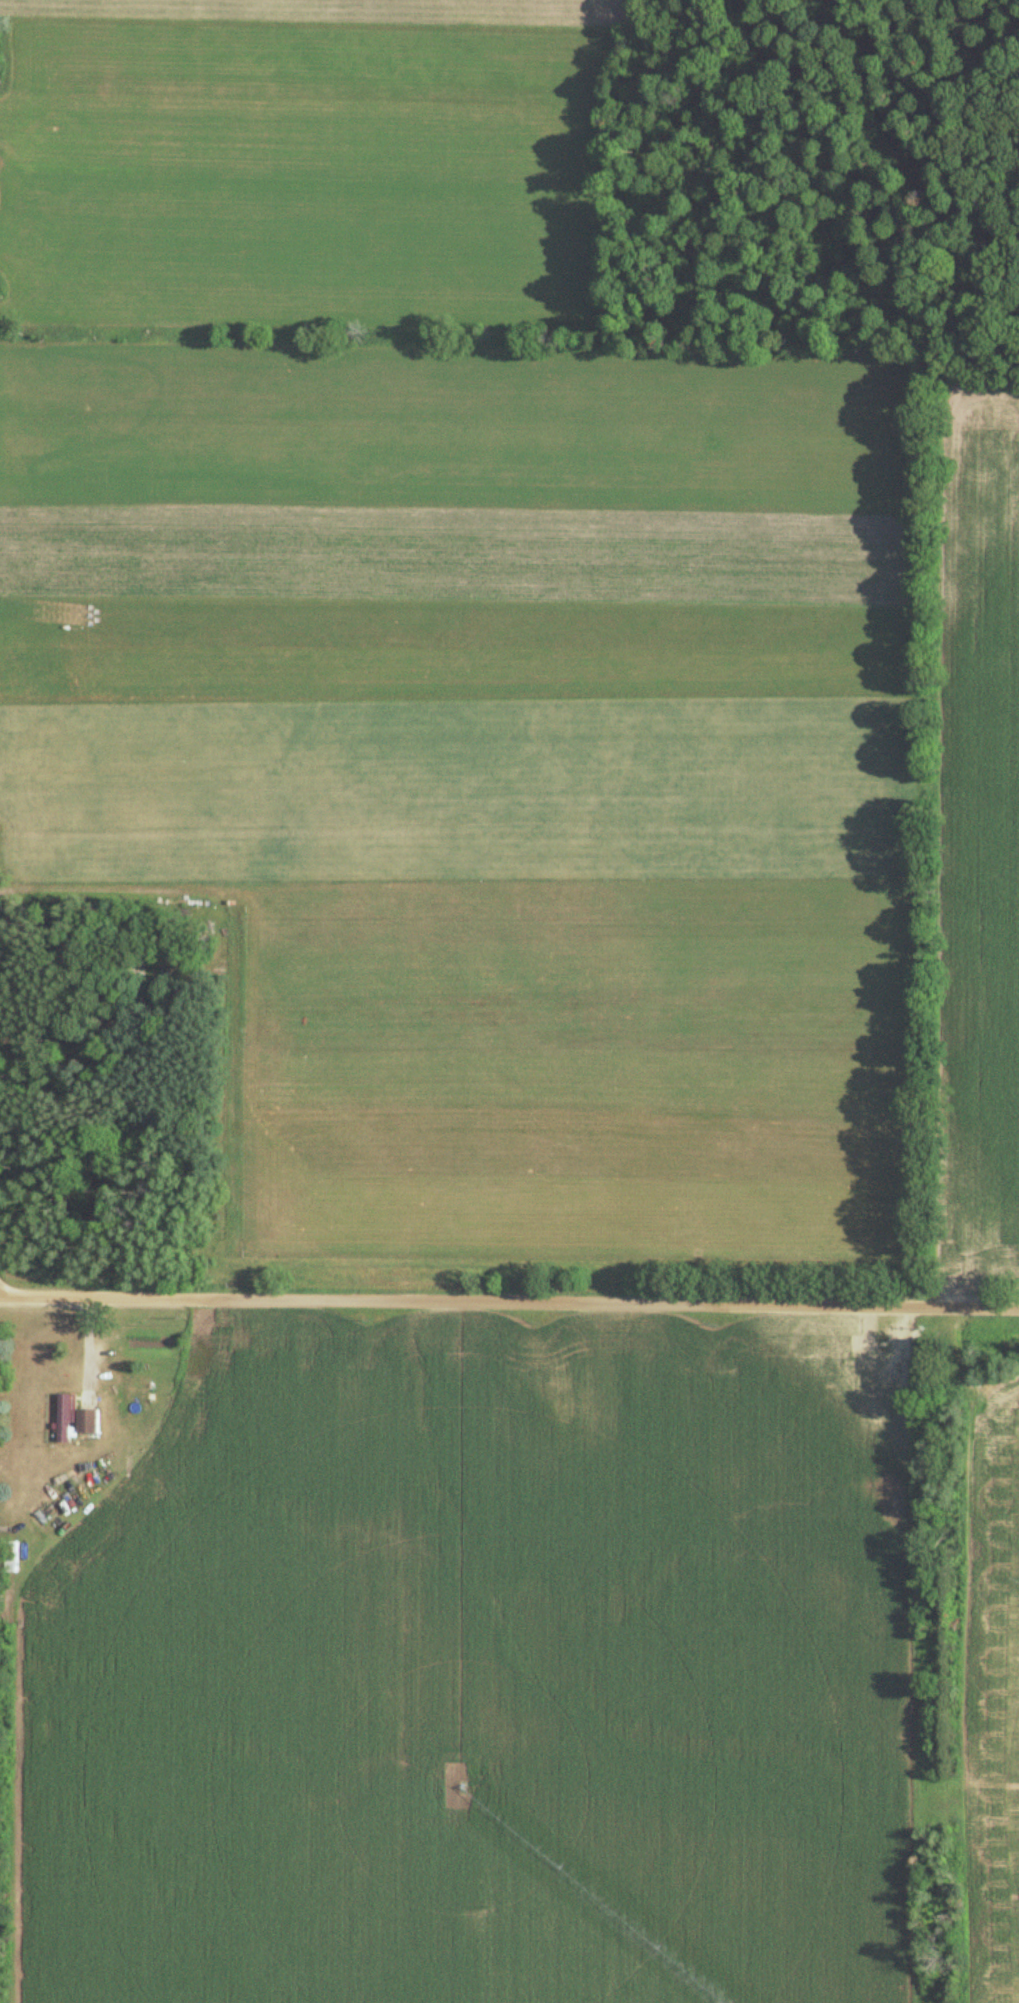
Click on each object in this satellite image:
road: (509, 1304)
building: (61, 1417)
building: (85, 1420)

